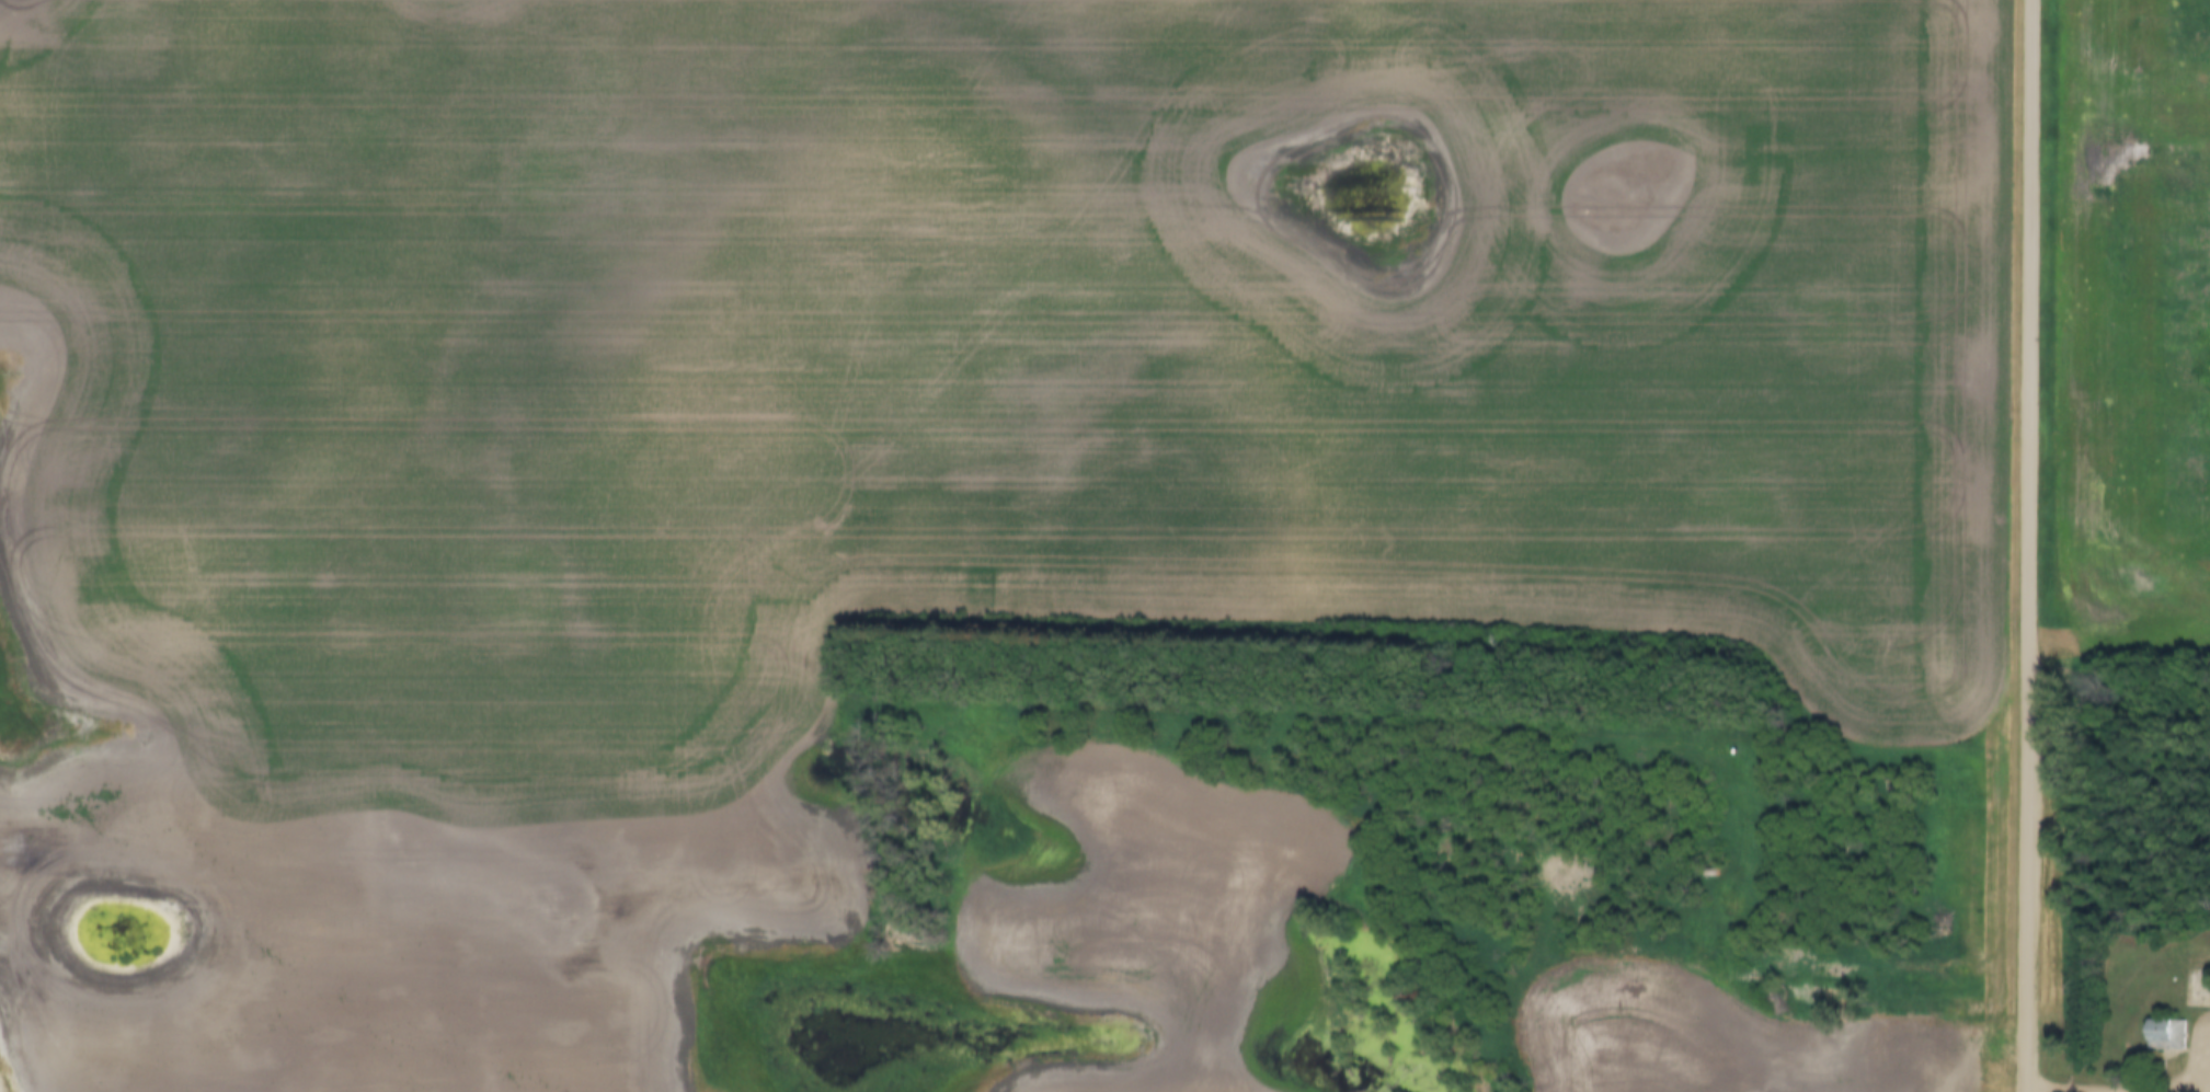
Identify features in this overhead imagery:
road: (2034, 545)
building: (2167, 1036)
road: (2199, 1090)
road: (2057, 1091)

